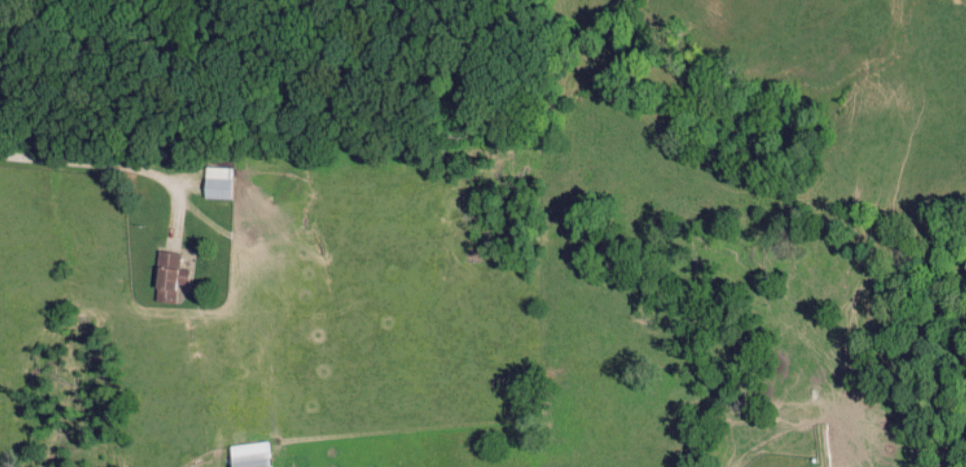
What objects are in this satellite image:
building: (216, 182)
building: (169, 276)

